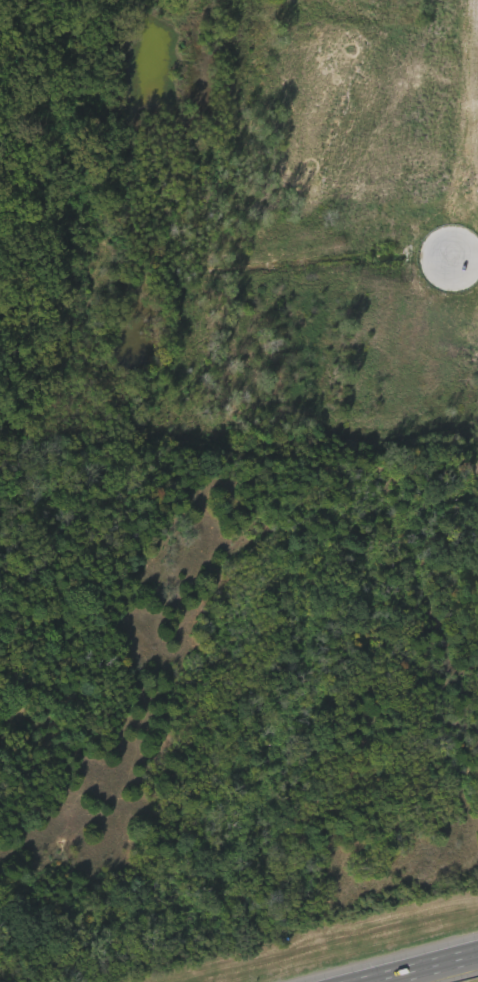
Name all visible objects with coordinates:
road: (465, 263)
road: (421, 967)

